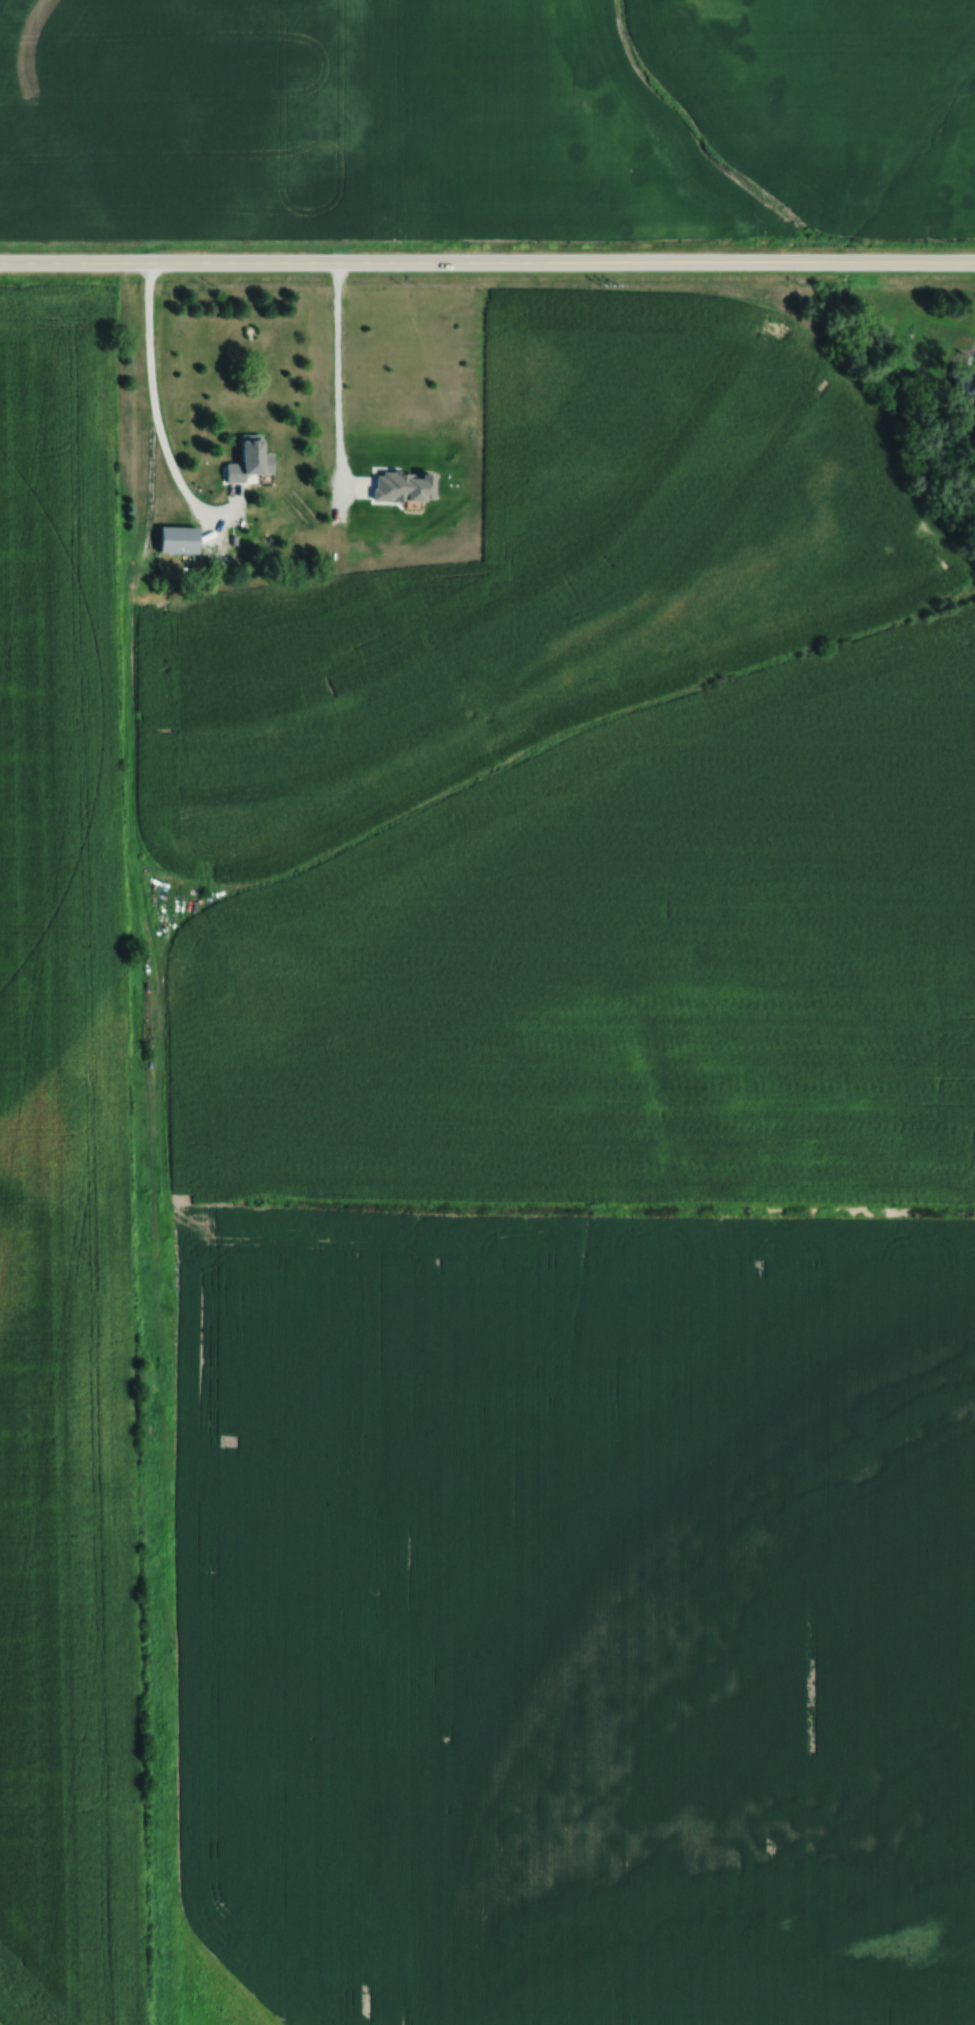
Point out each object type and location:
road: (487, 262)
road: (340, 373)
road: (158, 400)
building: (246, 461)

